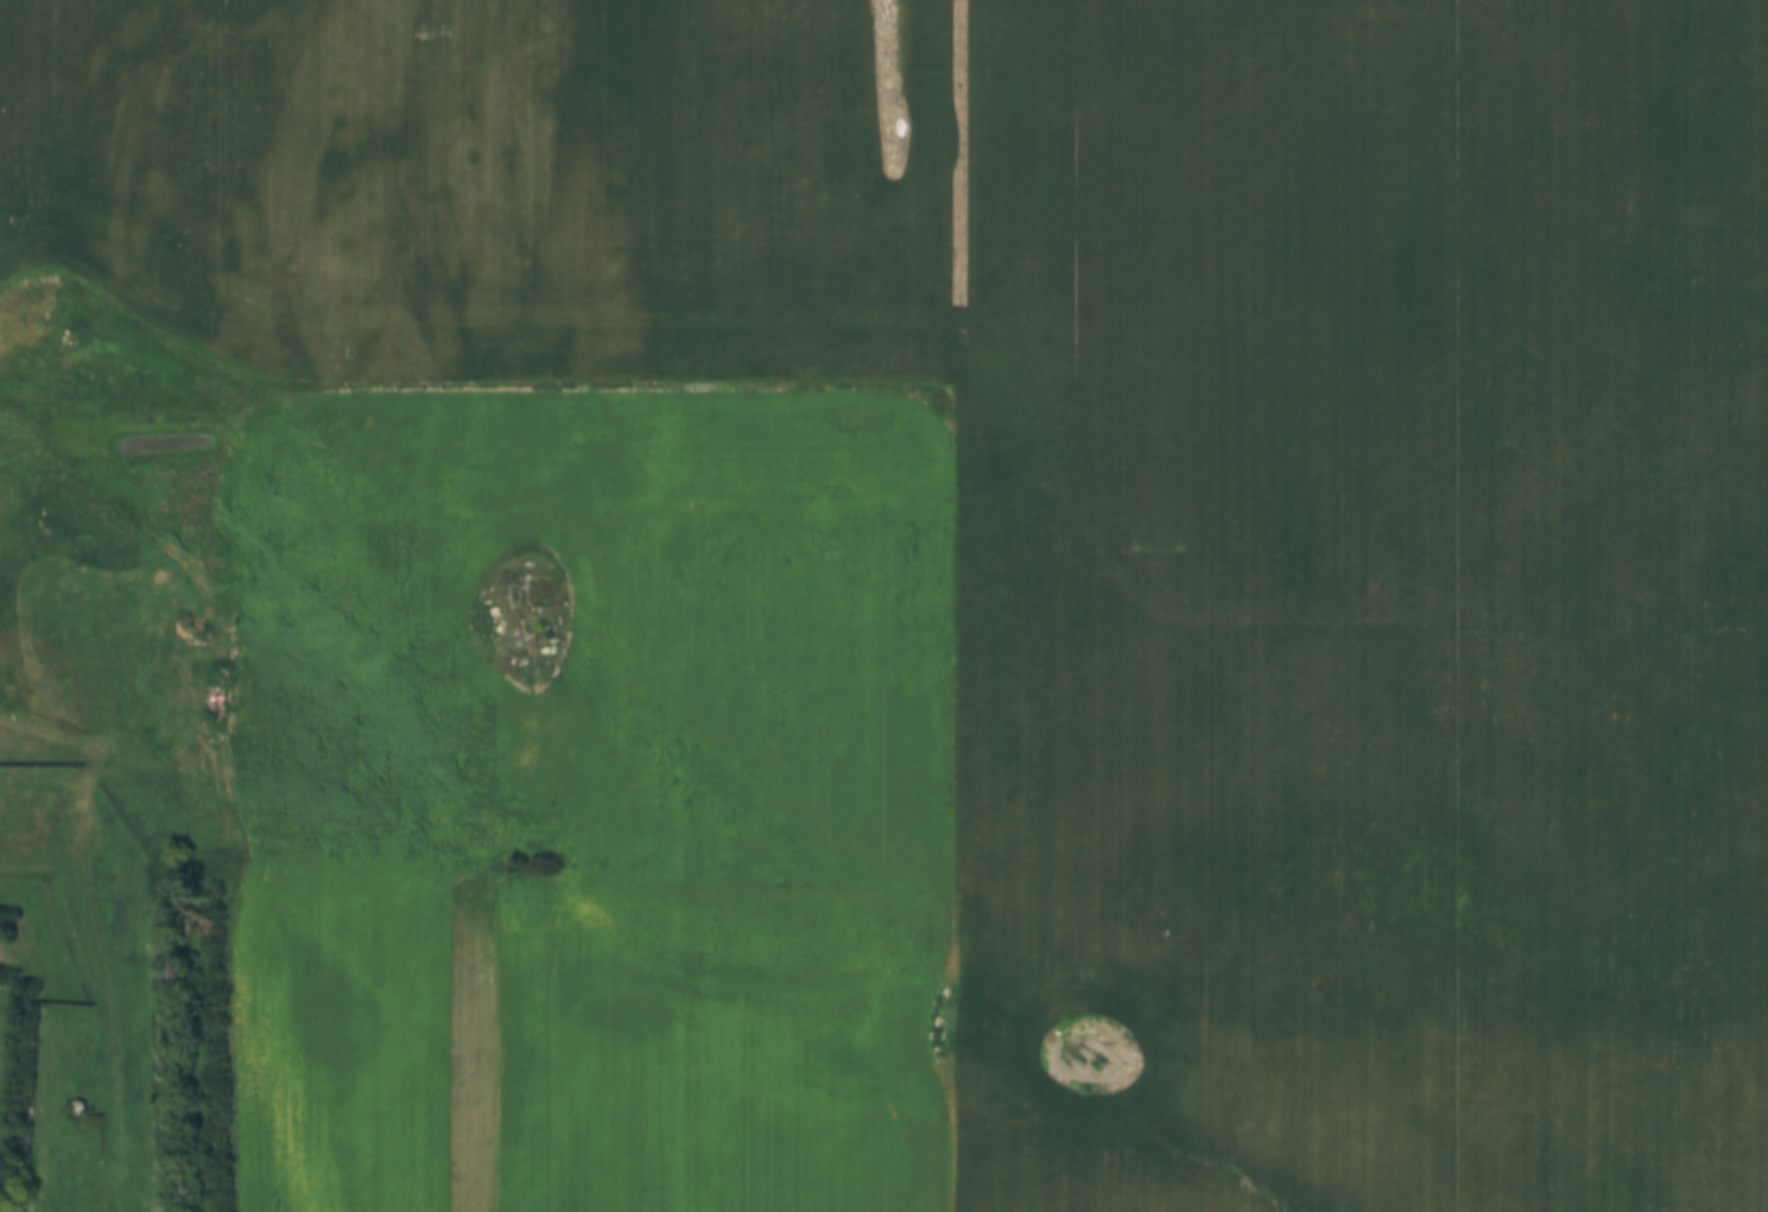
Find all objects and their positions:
road: (33, 722)
airport runway: (464, 1047)

